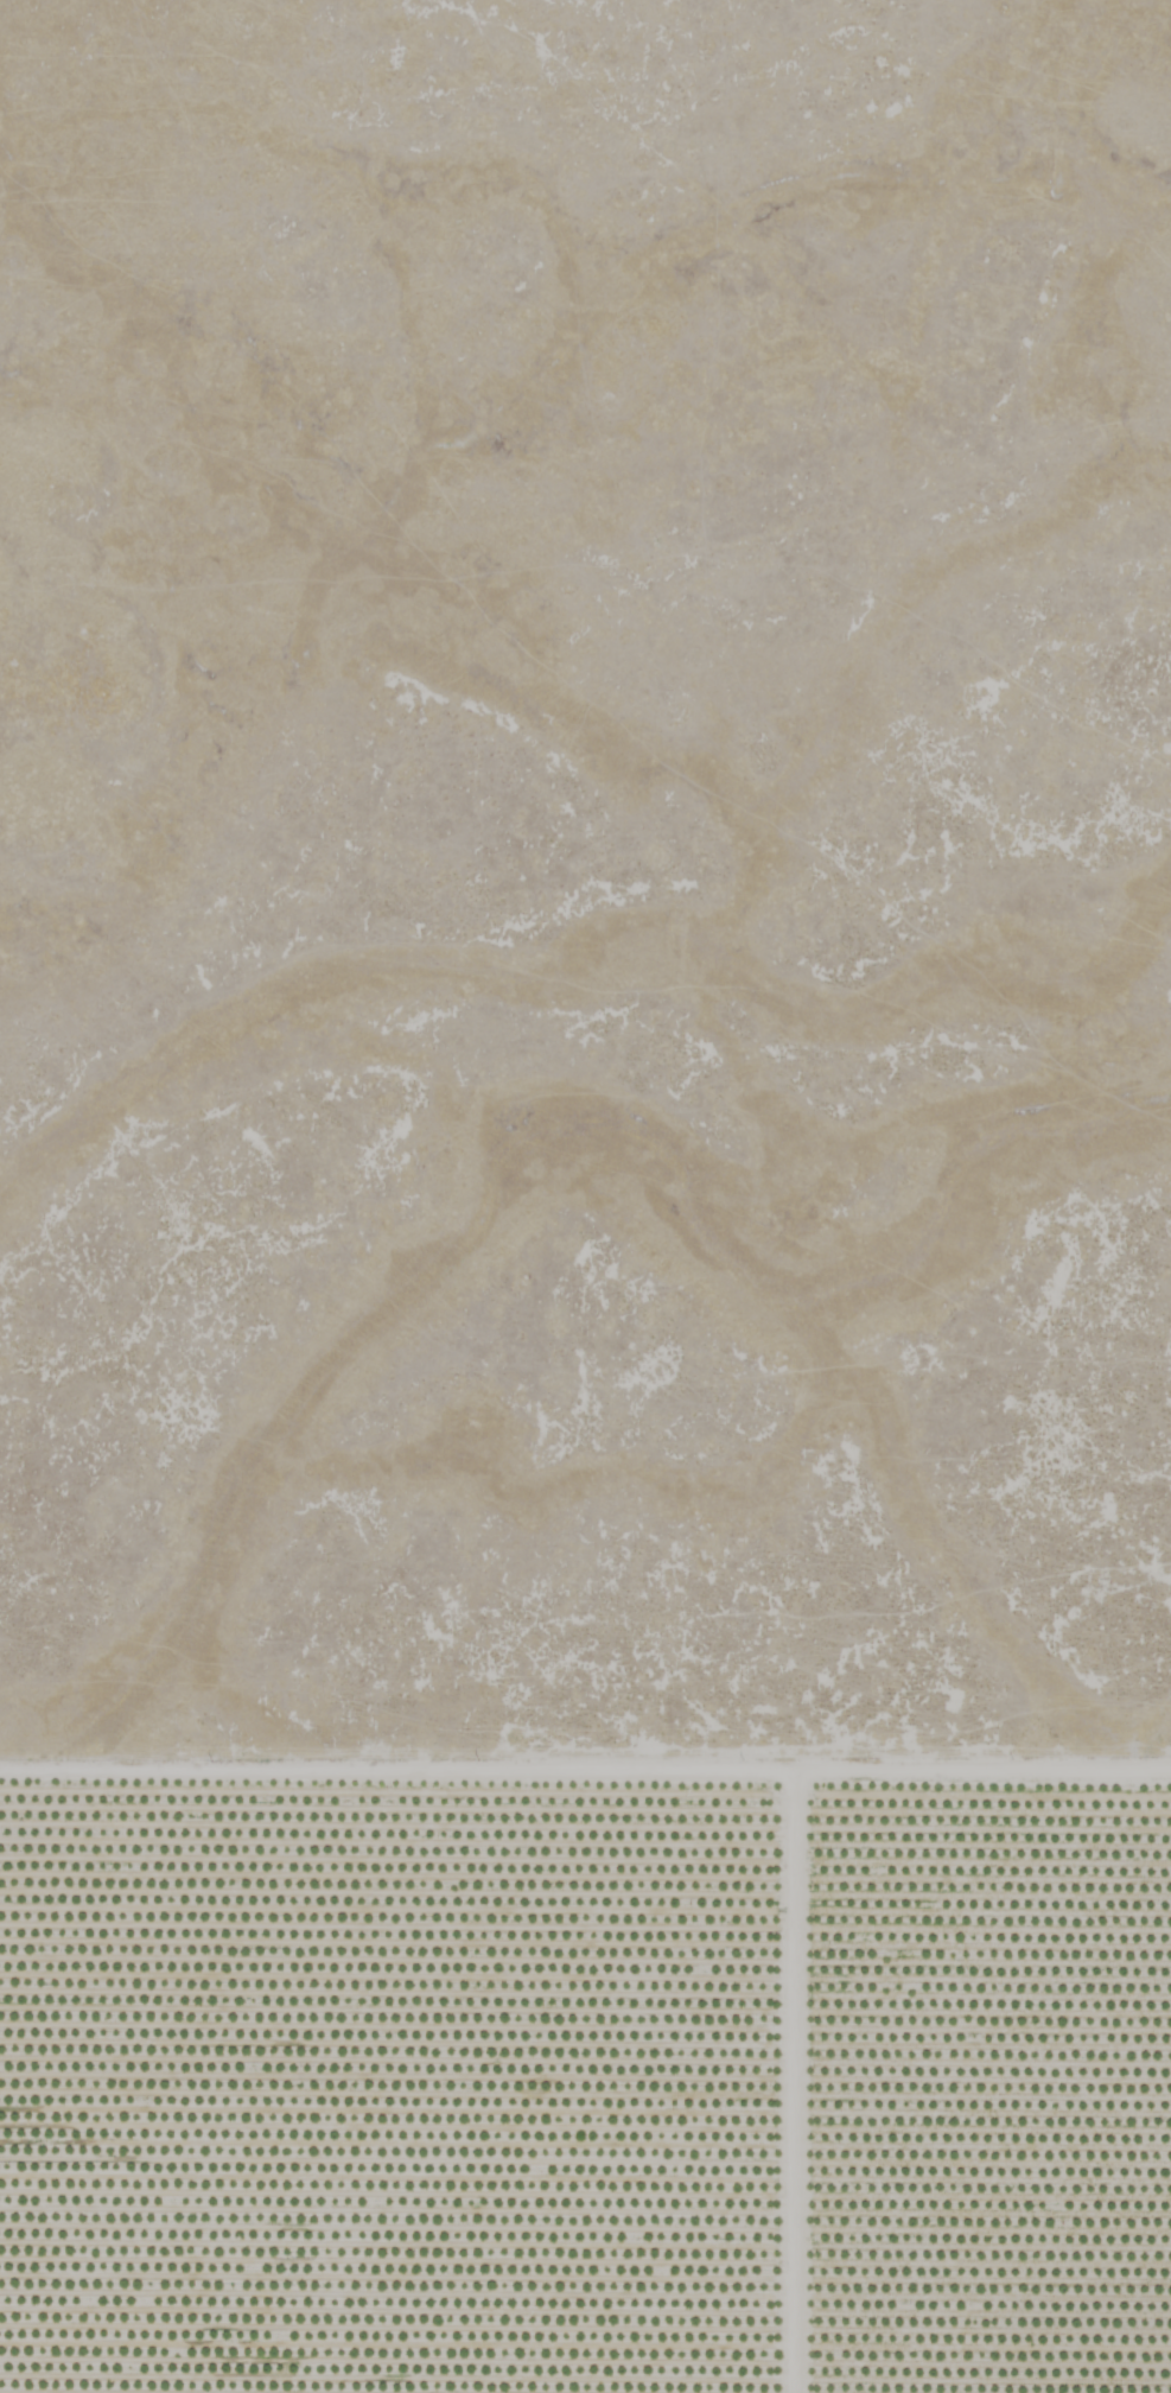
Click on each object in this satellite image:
road: (573, 1840)
crop: (588, 2092)
road: (766, 2118)

